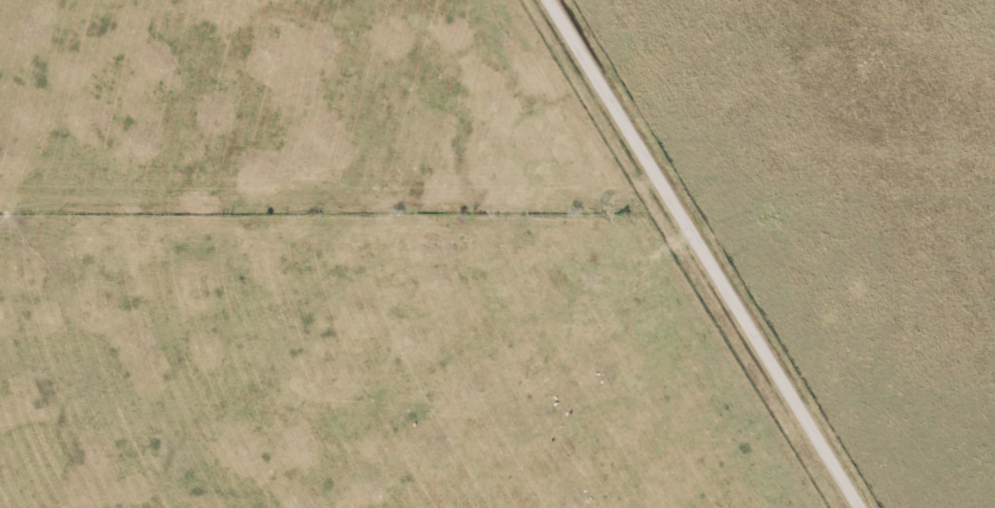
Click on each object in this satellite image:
road: (697, 254)

